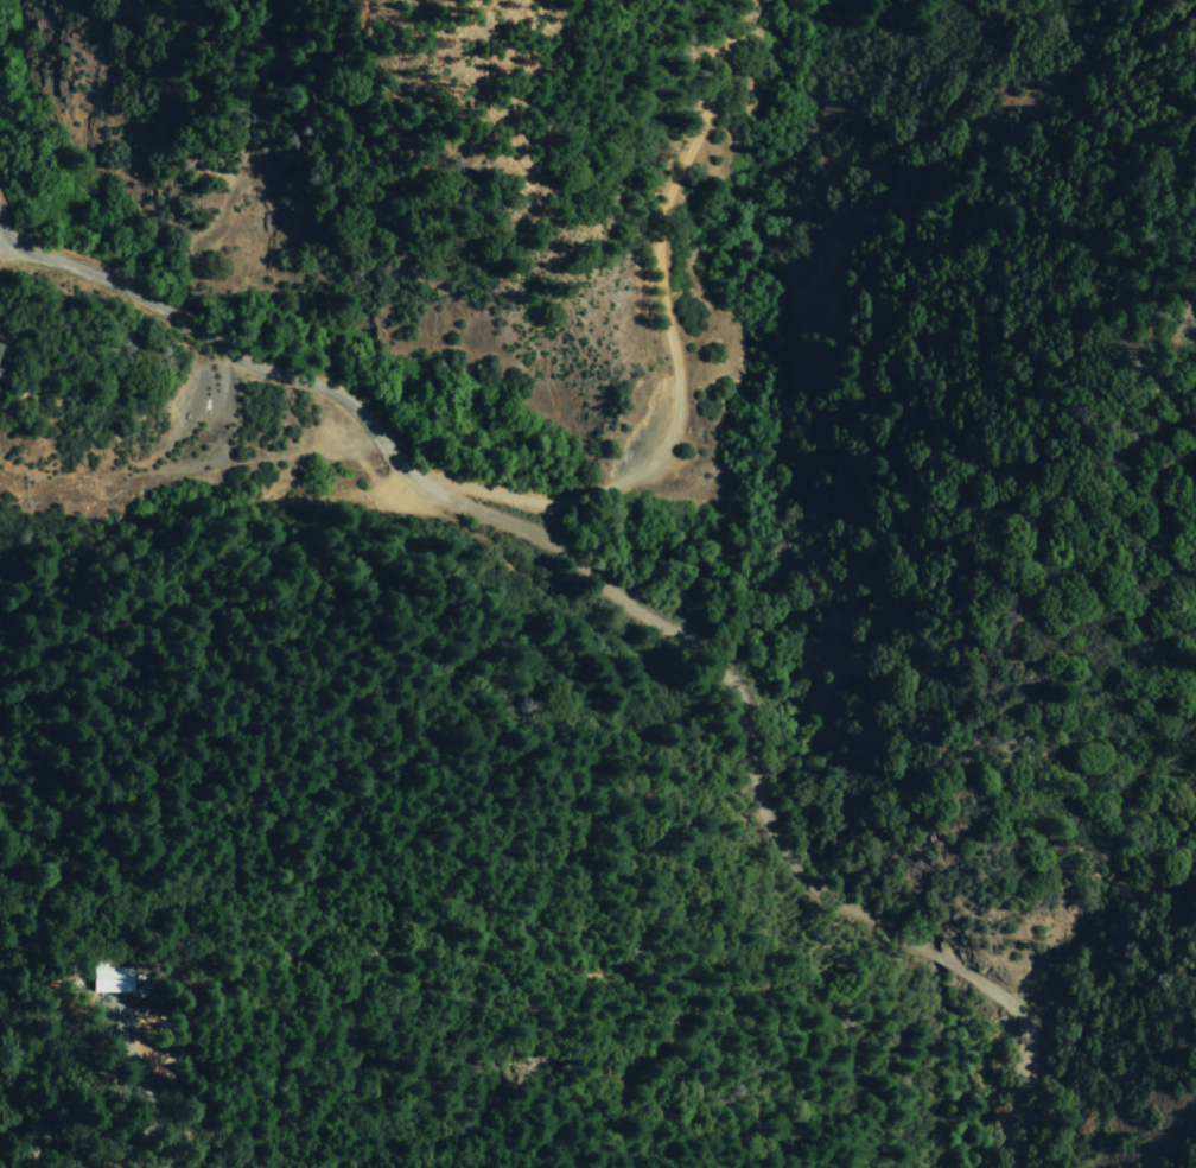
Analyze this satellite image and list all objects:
road: (217, 349)
road: (673, 349)
road: (727, 672)
road: (934, 958)
building: (110, 980)
road: (1031, 1042)

